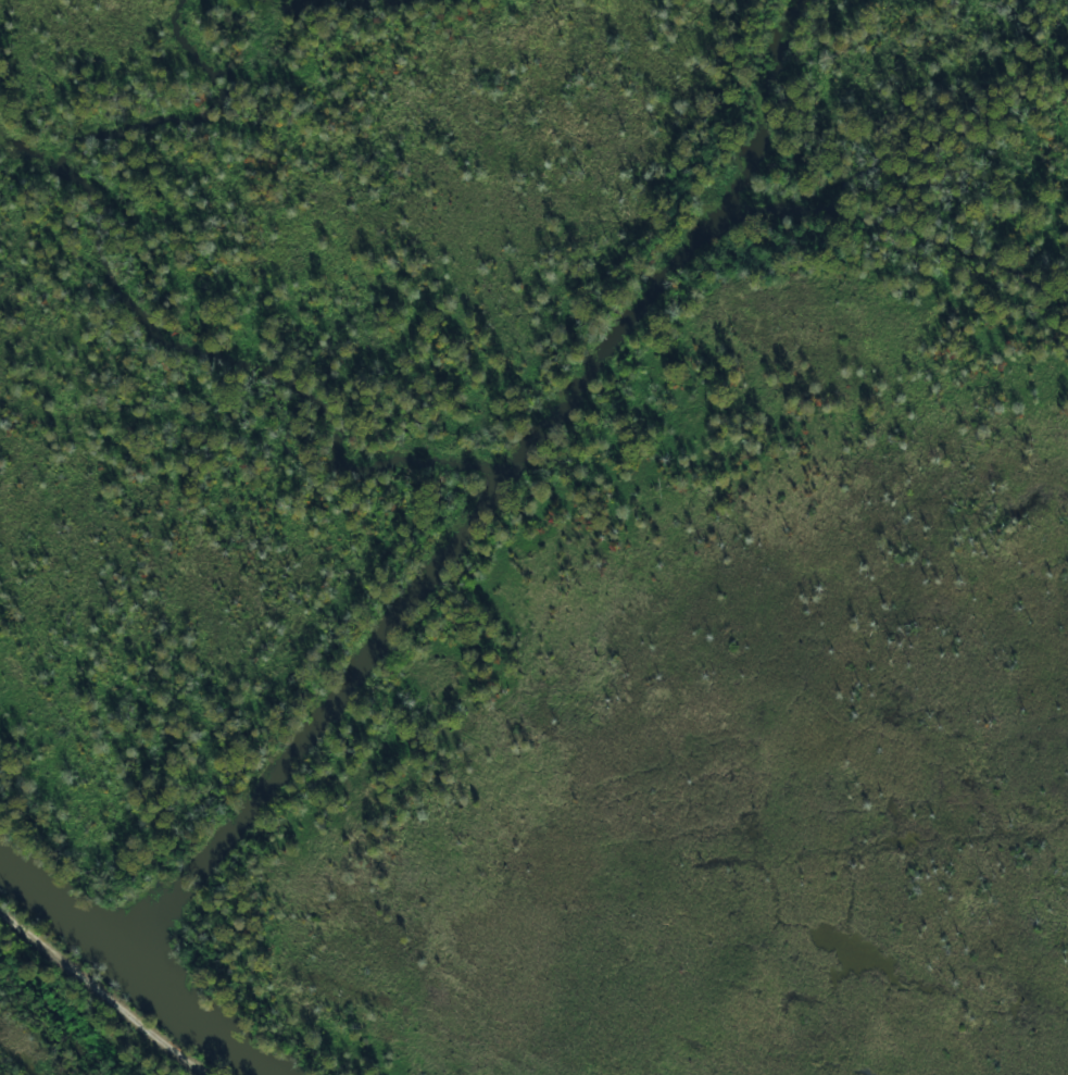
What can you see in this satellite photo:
road: (106, 991)

